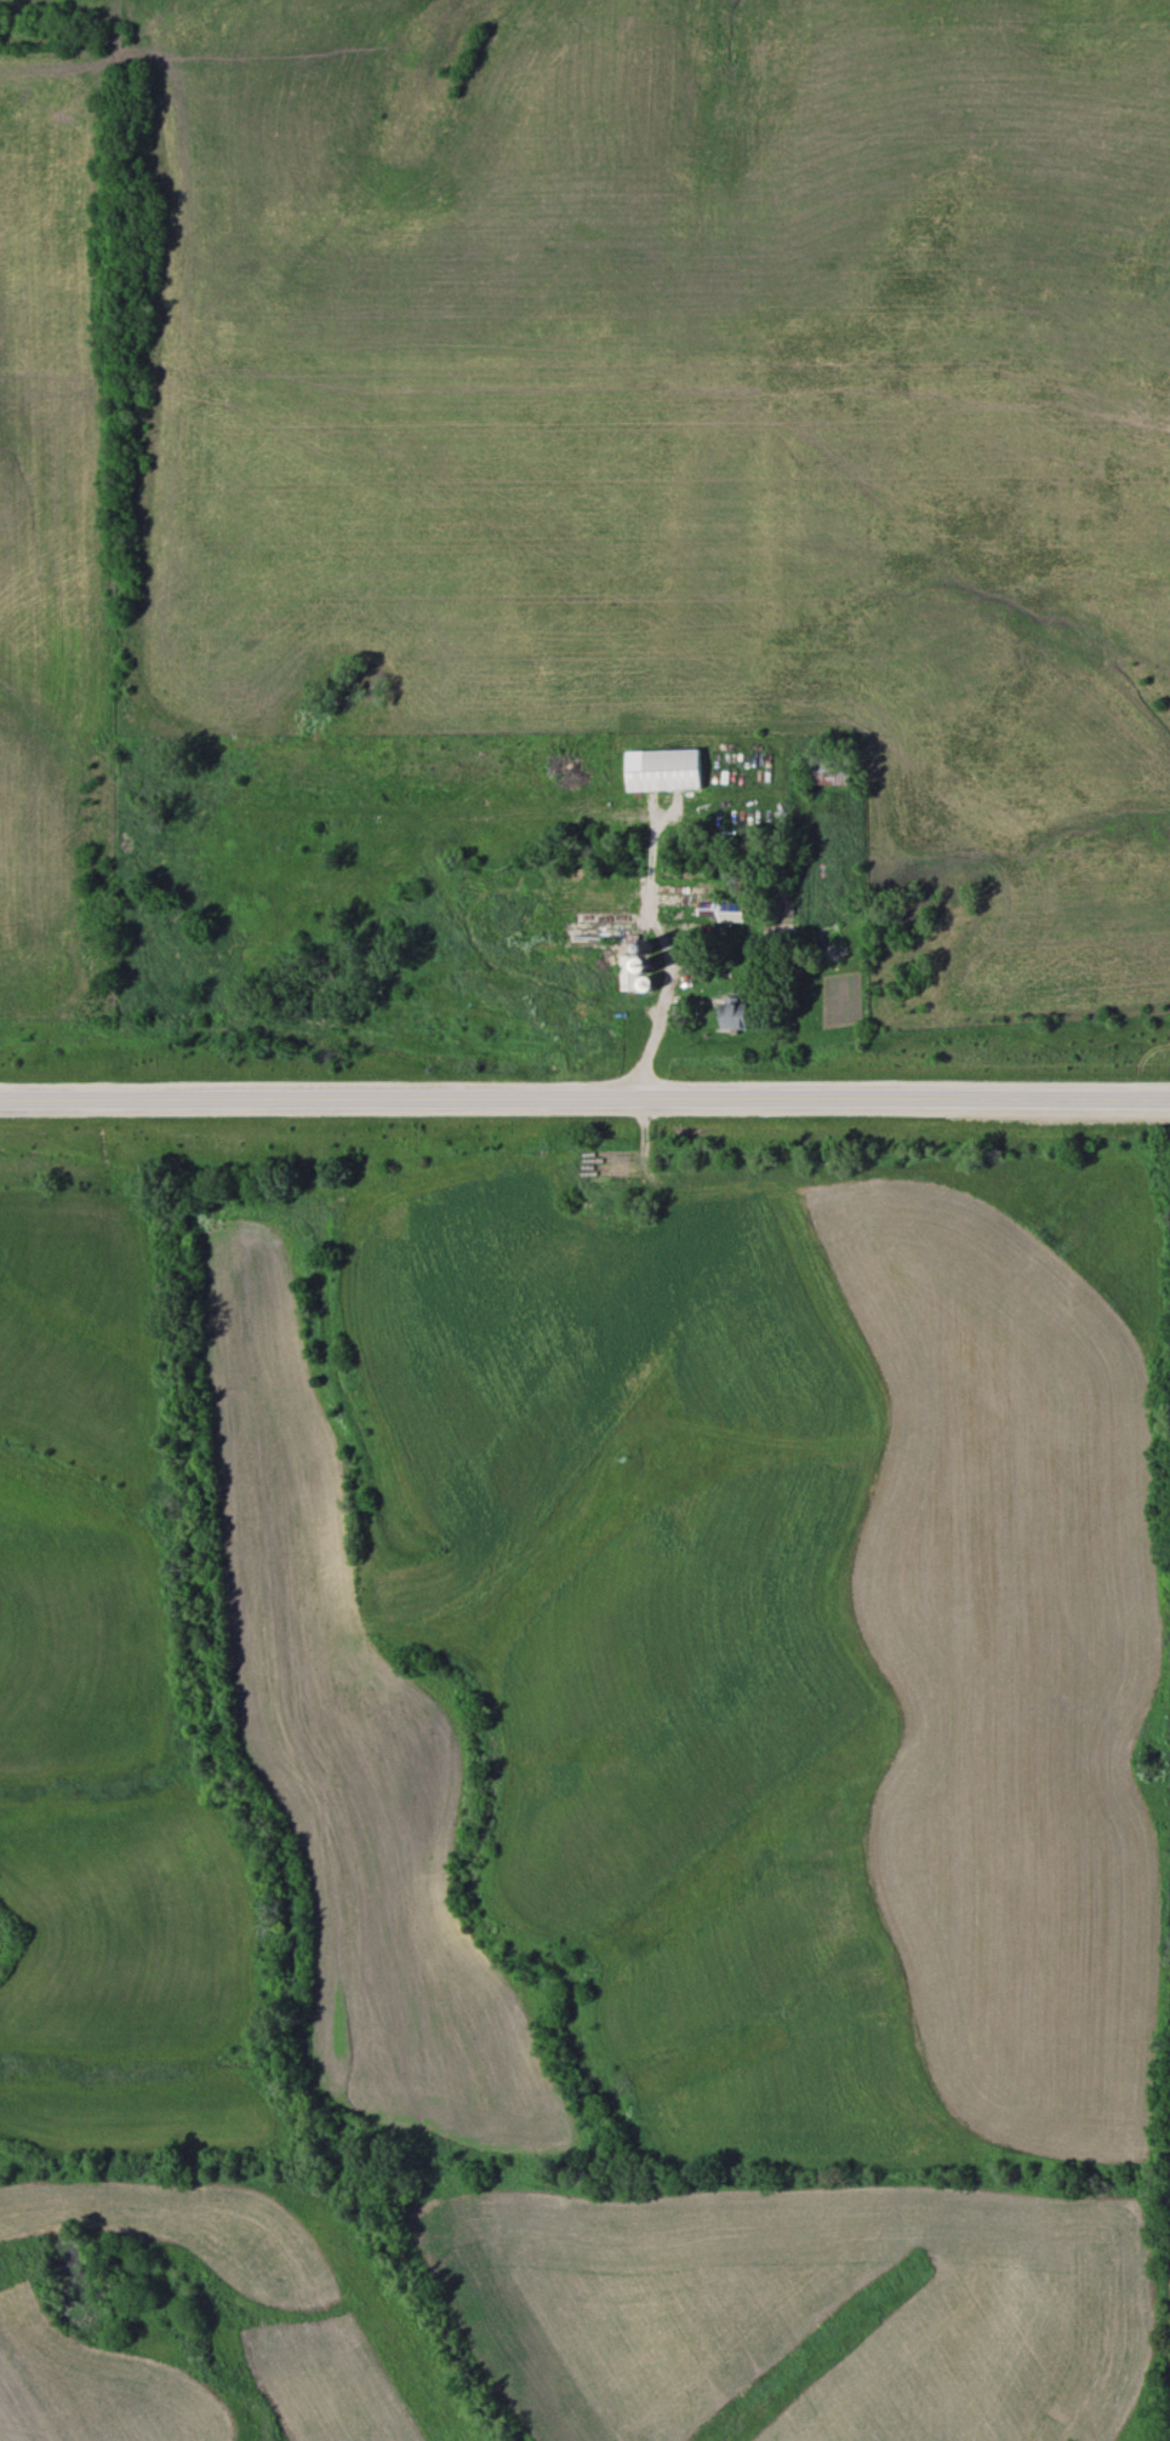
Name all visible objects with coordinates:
building: (657, 770)
building: (826, 772)
building: (718, 911)
building: (729, 1014)
road: (650, 1033)
road: (584, 1098)

